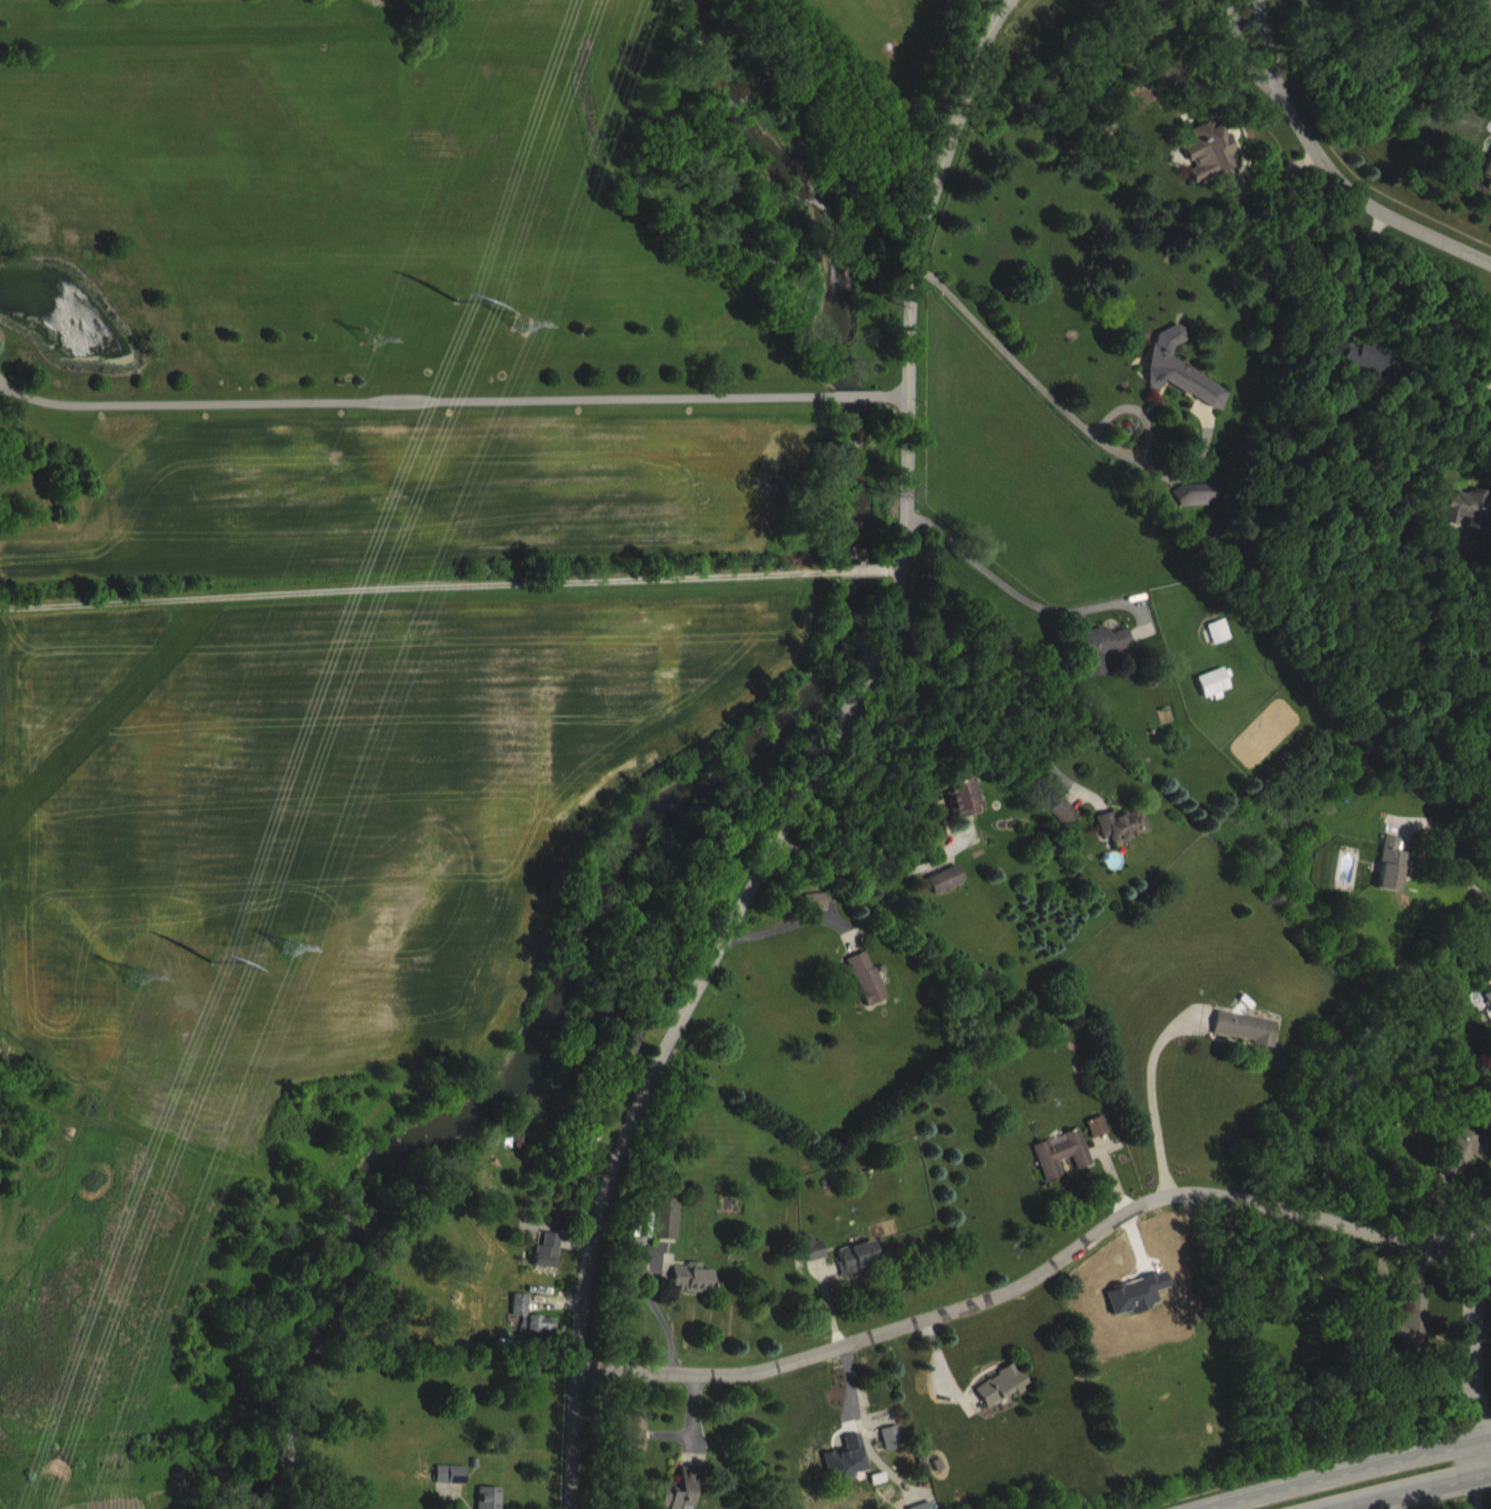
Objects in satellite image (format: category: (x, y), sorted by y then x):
building: (1483, 17)
building: (1214, 165)
road: (1331, 165)
building: (1490, 185)
road: (1331, 272)
power tower: (468, 286)
power tower: (524, 329)
power tower: (370, 336)
building: (1363, 372)
building: (1186, 384)
road: (452, 397)
road: (1065, 410)
road: (1450, 433)
building: (1206, 508)
building: (1471, 521)
road: (1009, 588)
building: (1224, 645)
building: (1107, 660)
road: (1002, 694)
building: (1219, 696)
road: (818, 762)
building: (967, 811)
building: (1070, 826)
building: (1129, 838)
road: (1450, 850)
building: (1399, 878)
building: (952, 892)
road: (877, 893)
building: (822, 915)
road: (797, 940)
power tower: (289, 948)
power tower: (211, 960)
power tower: (134, 976)
building: (874, 991)
building: (1490, 1006)
building: (1250, 1041)
road: (1150, 1096)
building: (1104, 1140)
building: (1469, 1165)
building: (1068, 1166)
building: (674, 1232)
building: (820, 1262)
building: (555, 1265)
building: (864, 1269)
road: (1042, 1278)
building: (700, 1291)
building: (1419, 1331)
building: (538, 1332)
road: (1470, 1361)
building: (1007, 1399)
building: (642, 1446)
building: (898, 1450)
road: (1346, 1469)
building: (852, 1473)
road: (1402, 1487)
building: (459, 1488)
road: (1481, 1489)
building: (689, 1497)
building: (496, 1504)

